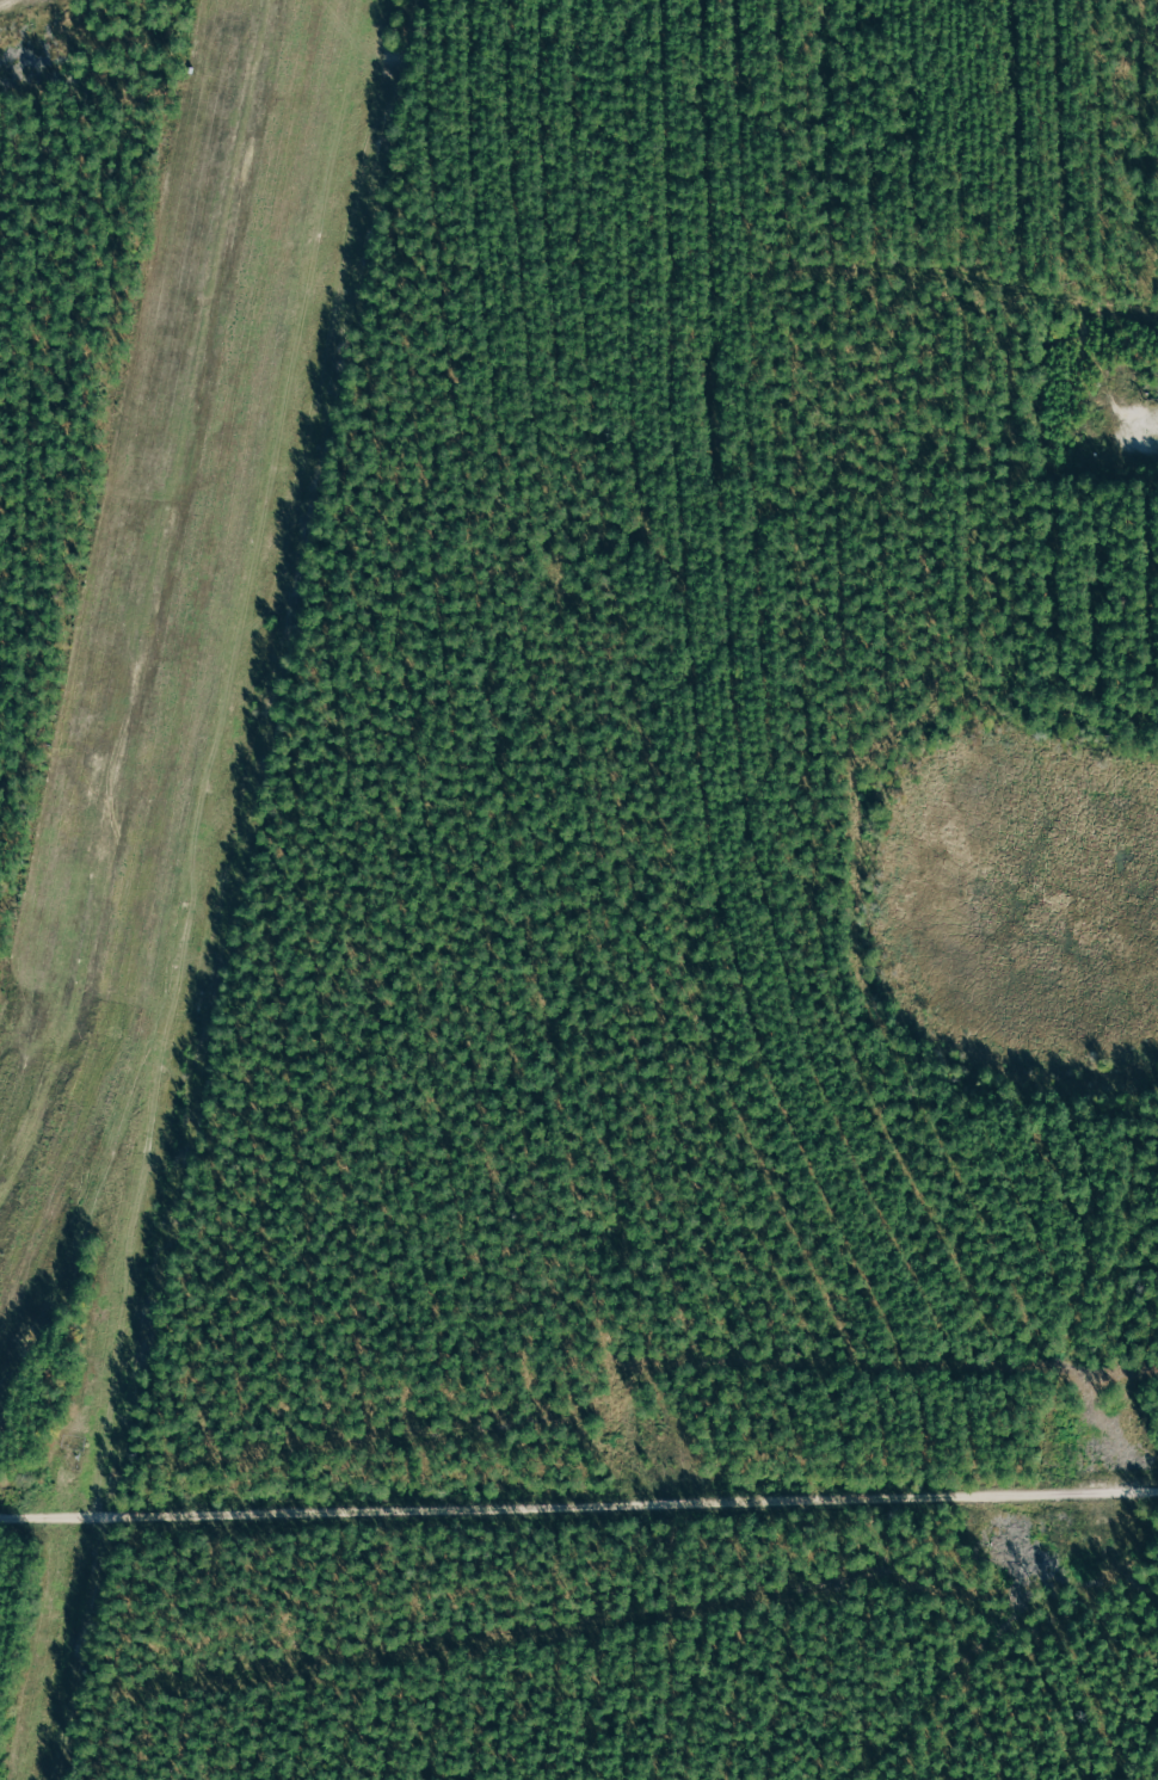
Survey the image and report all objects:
road: (37, 18)
road: (579, 1517)

